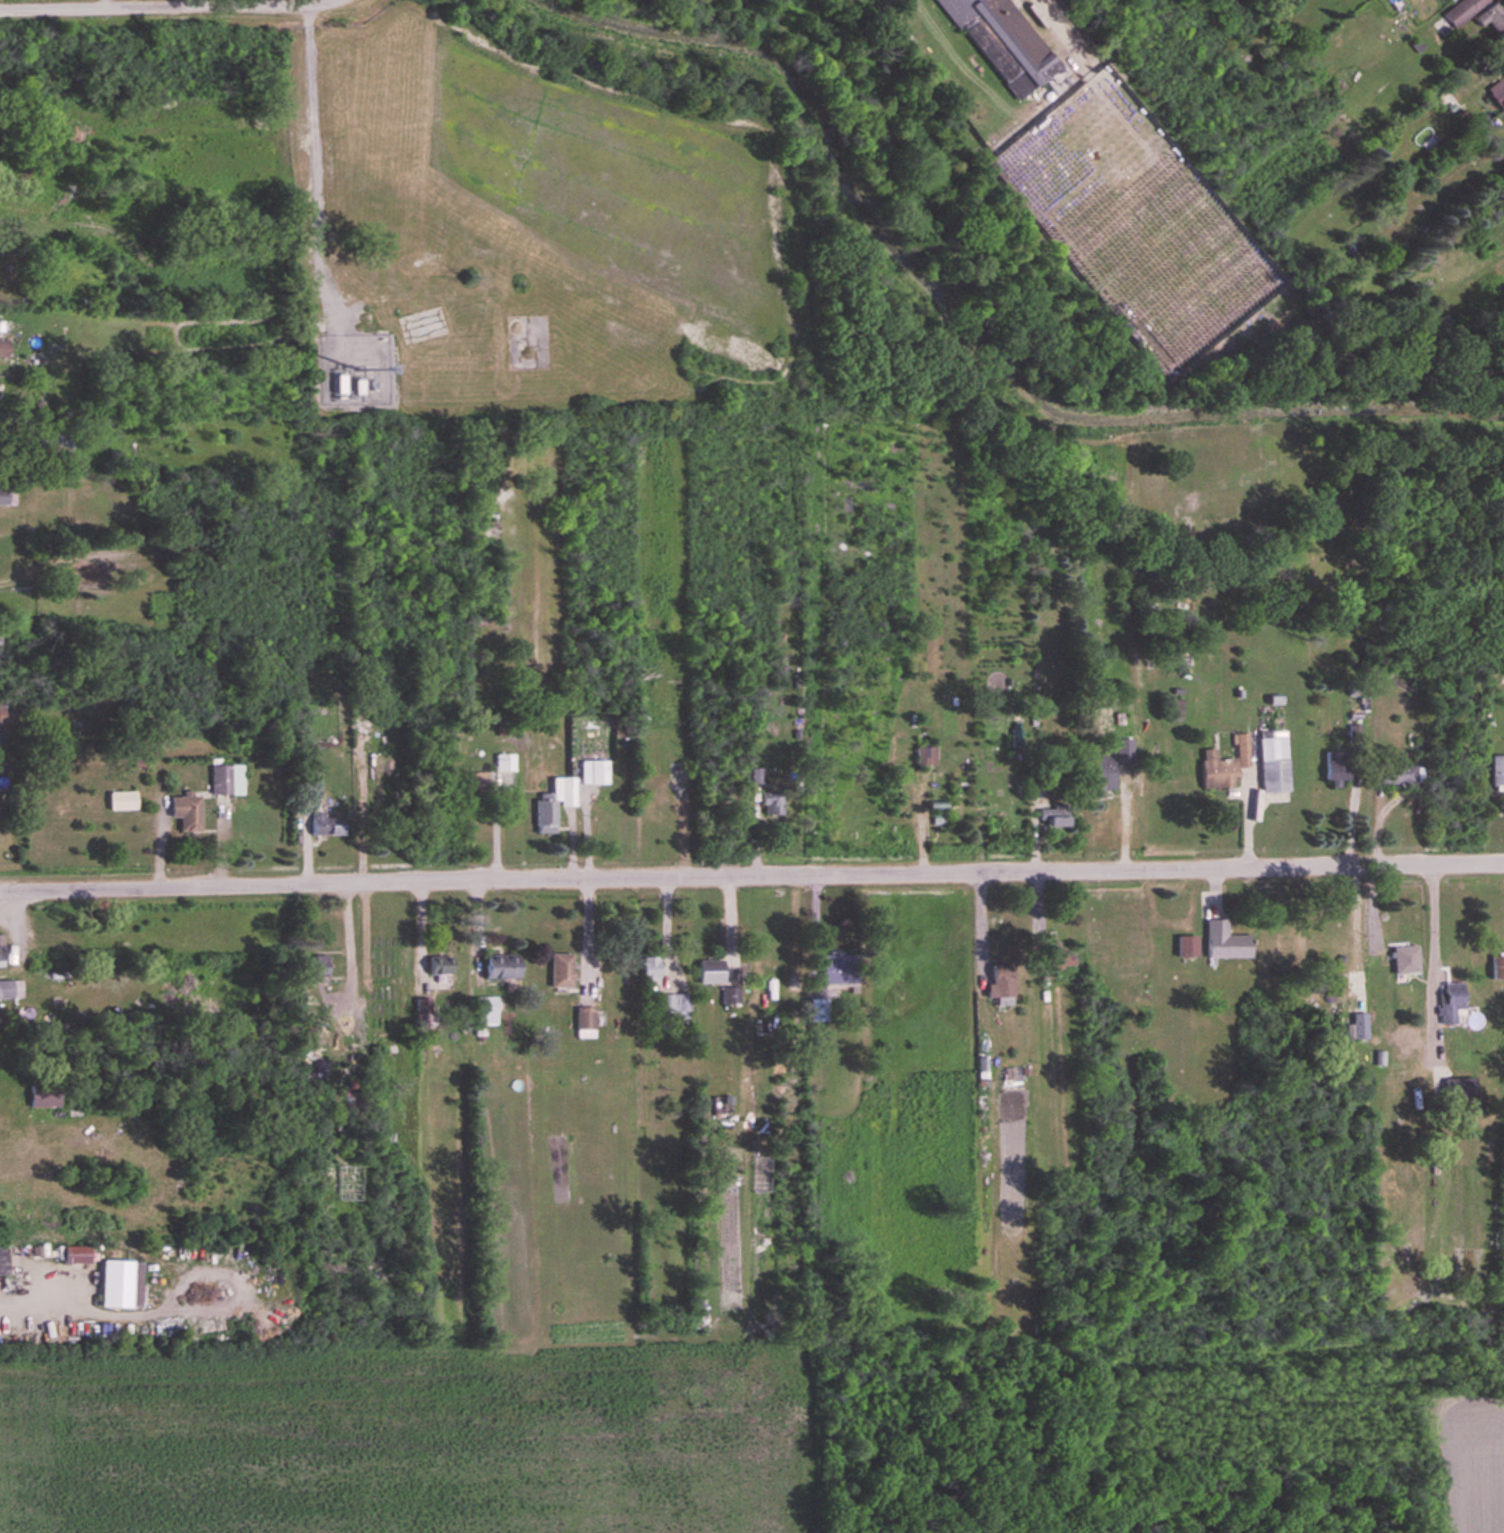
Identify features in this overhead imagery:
building: (1450, 1)
road: (165, 7)
building: (1460, 10)
building: (1489, 17)
building: (1003, 45)
road: (379, 209)
building: (3, 348)
building: (335, 384)
building: (1, 495)
building: (12, 714)
building: (923, 756)
building: (503, 763)
building: (1271, 764)
building: (1221, 765)
building: (591, 773)
building: (1496, 773)
building: (1393, 775)
building: (1097, 776)
building: (223, 780)
building: (477, 783)
building: (306, 790)
building: (119, 800)
building: (552, 804)
building: (770, 804)
building: (182, 812)
building: (1049, 818)
road: (751, 874)
road: (978, 924)
building: (1224, 941)
building: (1184, 945)
road: (349, 947)
building: (0, 951)
building: (1055, 955)
building: (1402, 958)
building: (437, 965)
building: (1495, 966)
building: (499, 967)
building: (313, 968)
building: (647, 970)
building: (836, 970)
building: (557, 971)
building: (707, 971)
building: (996, 984)
building: (5, 988)
building: (728, 996)
building: (1448, 1001)
building: (484, 1005)
building: (669, 1008)
building: (815, 1011)
building: (582, 1022)
building: (1358, 1025)
building: (1405, 1033)
building: (1455, 1088)
building: (38, 1096)
building: (1, 1259)
building: (117, 1283)

